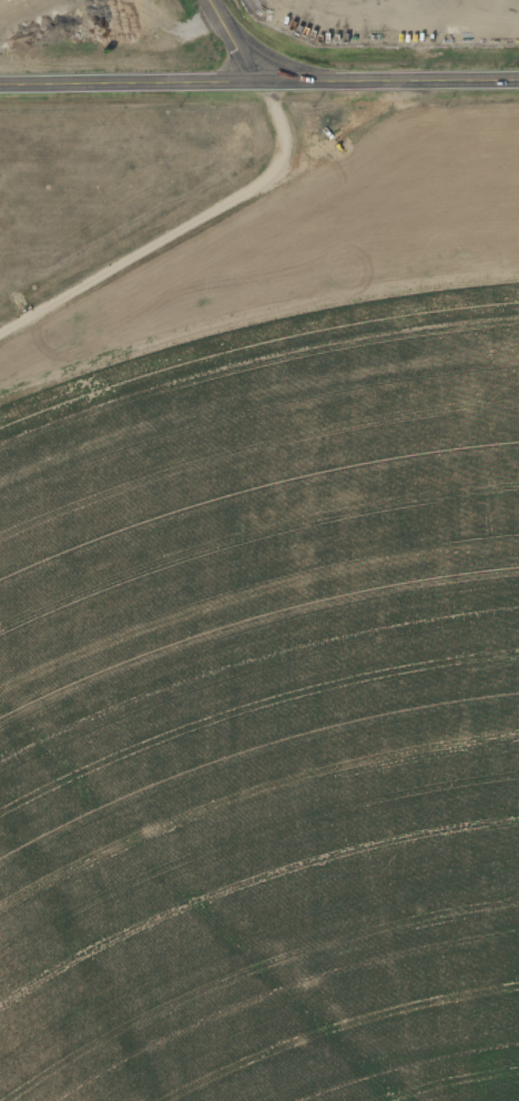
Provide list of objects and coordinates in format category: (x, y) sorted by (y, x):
road: (247, 47)
road: (258, 82)
road: (175, 225)

